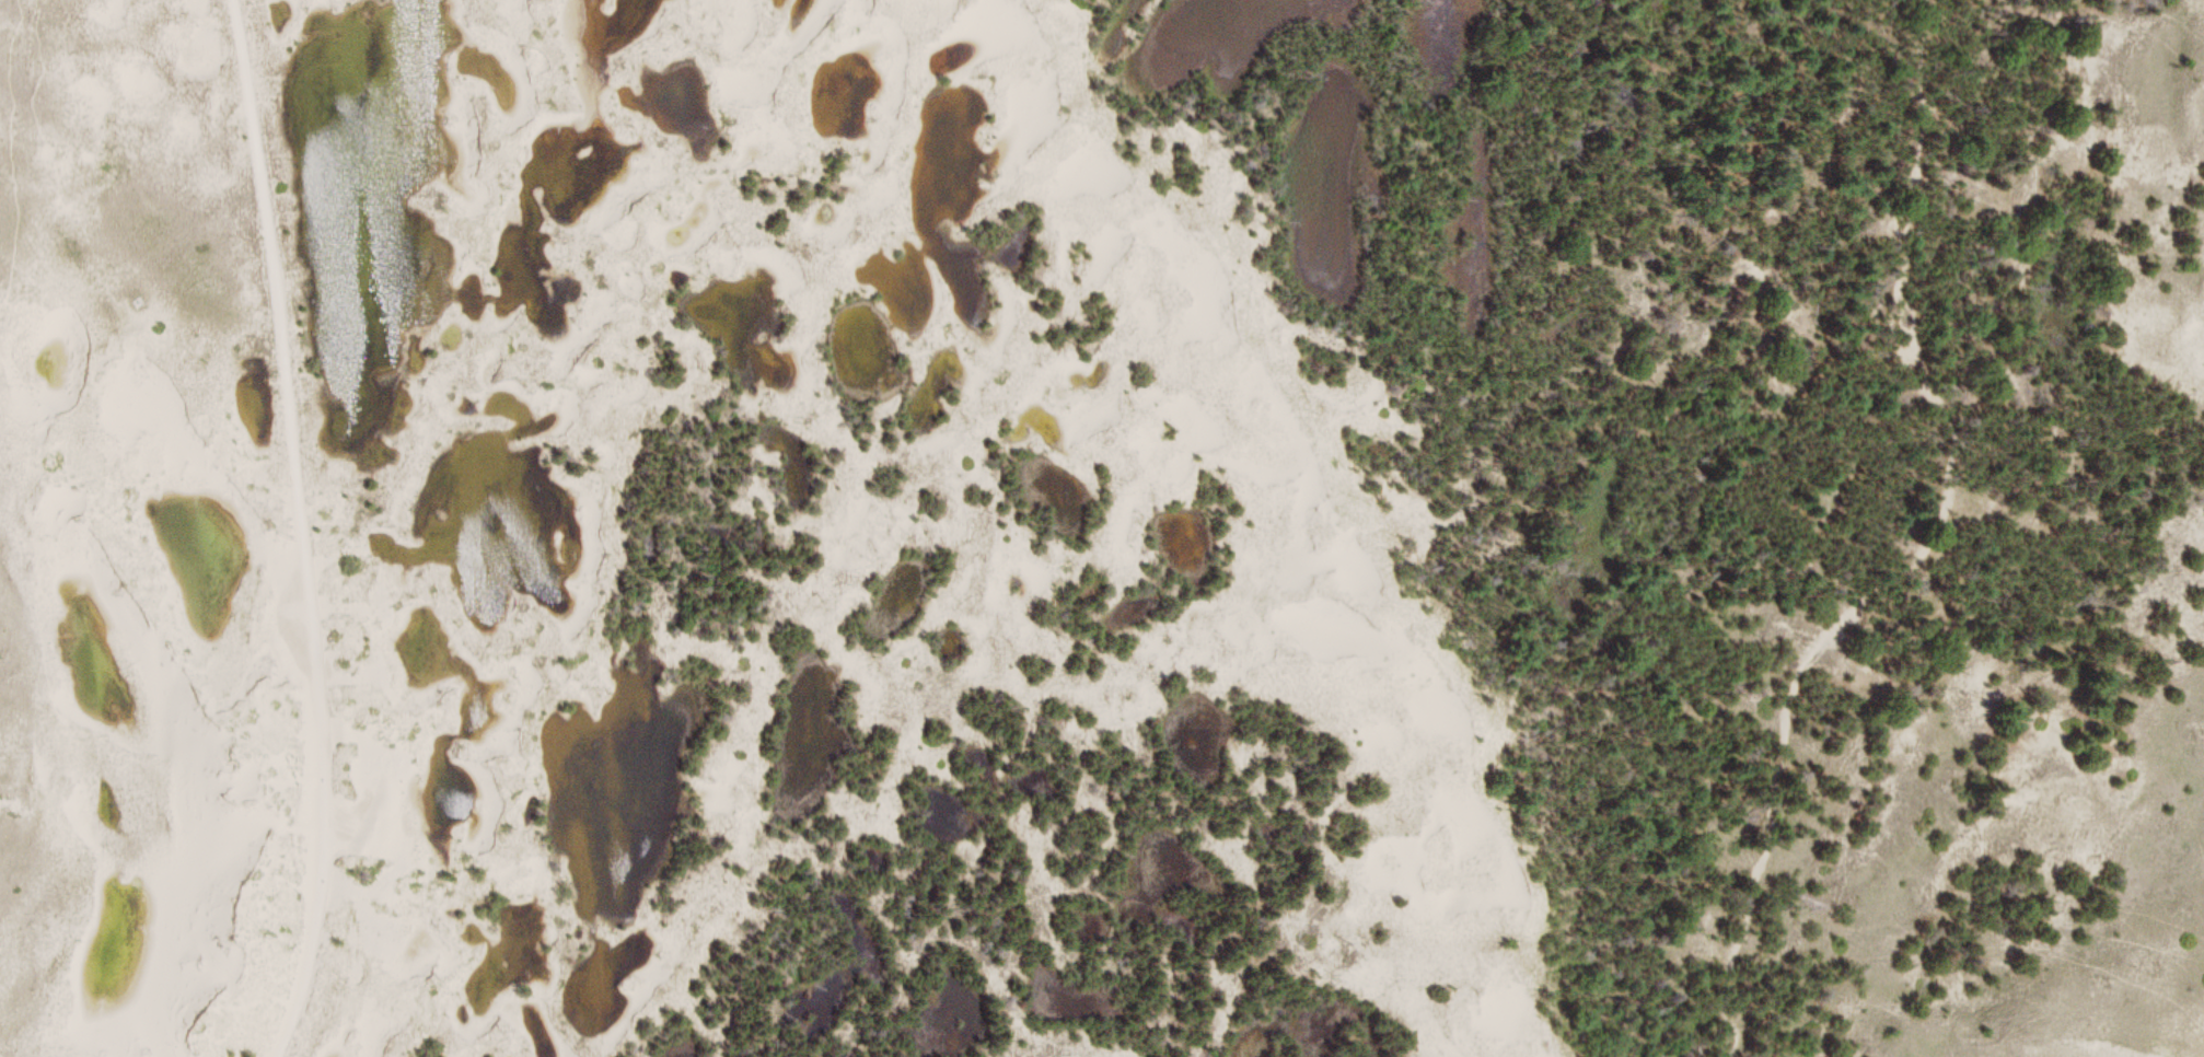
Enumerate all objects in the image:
road: (275, 33)
park: (1102, 528)
road: (302, 530)
road: (1921, 542)

